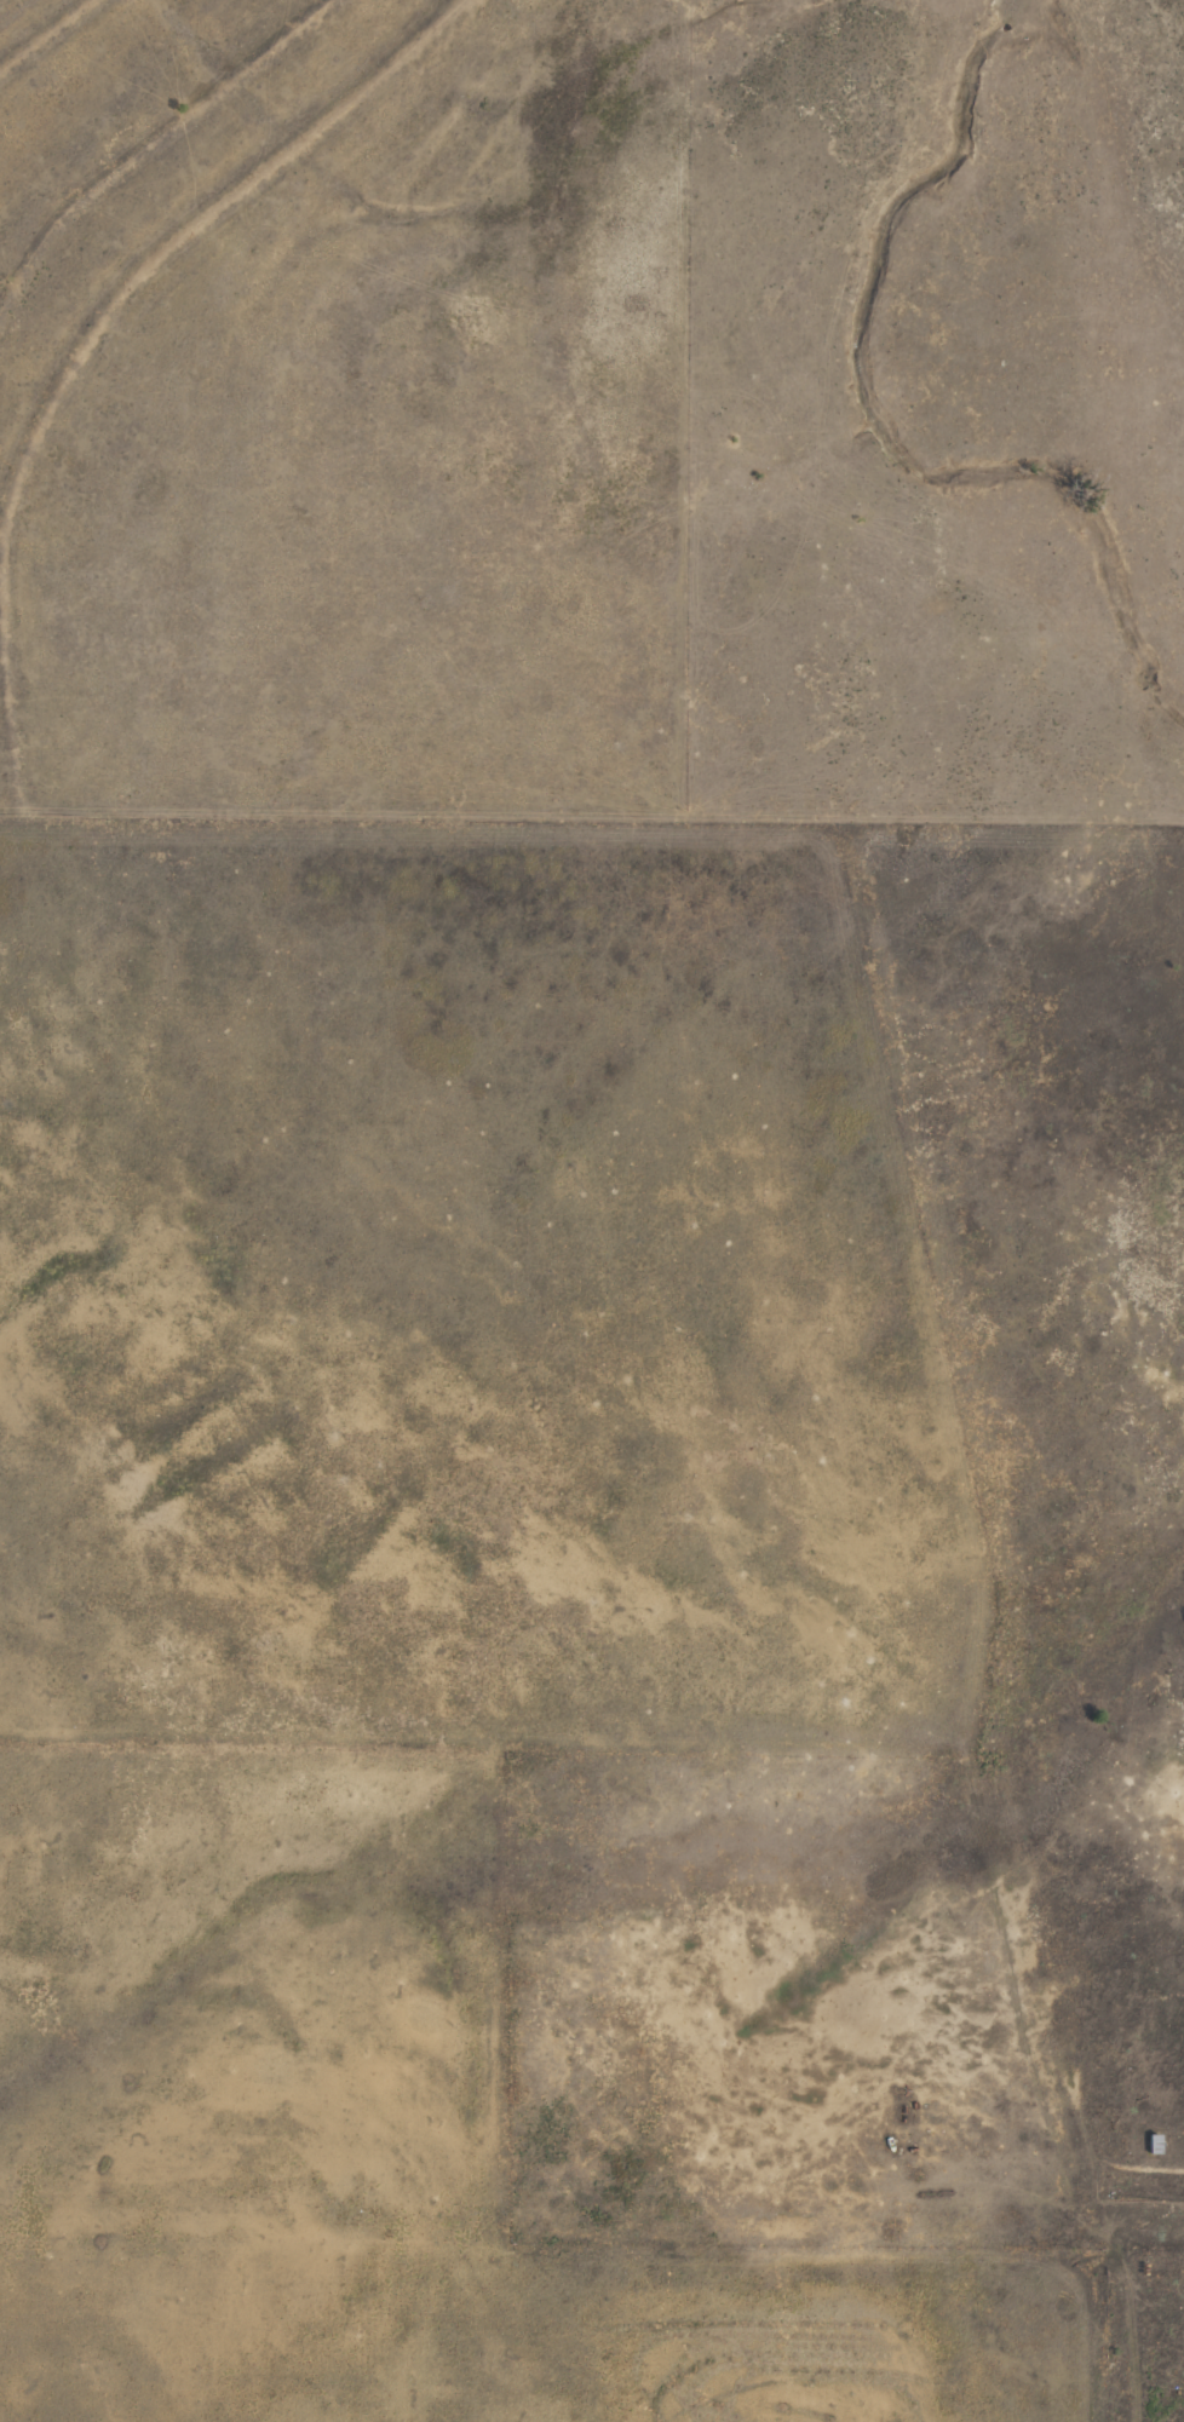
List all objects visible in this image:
building: (1150, 2146)

